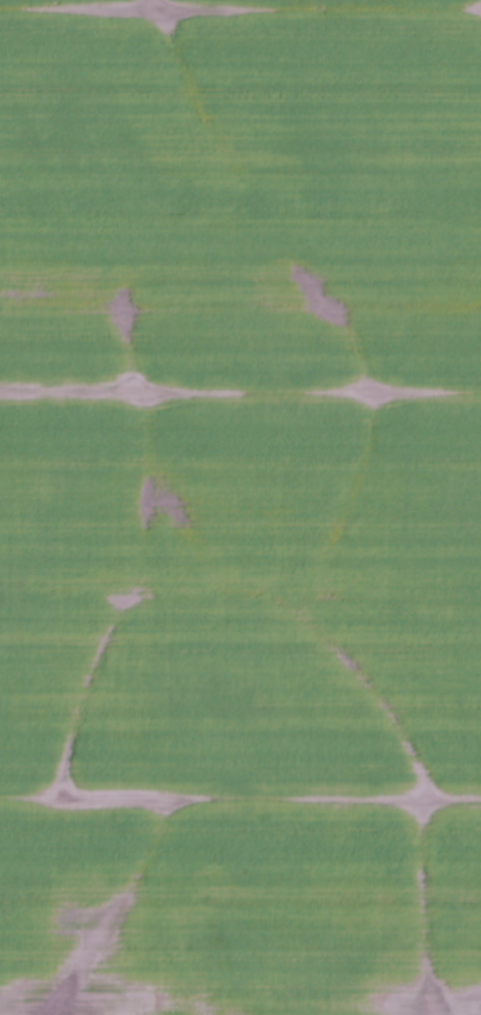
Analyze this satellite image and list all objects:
crop: (240, 92)

